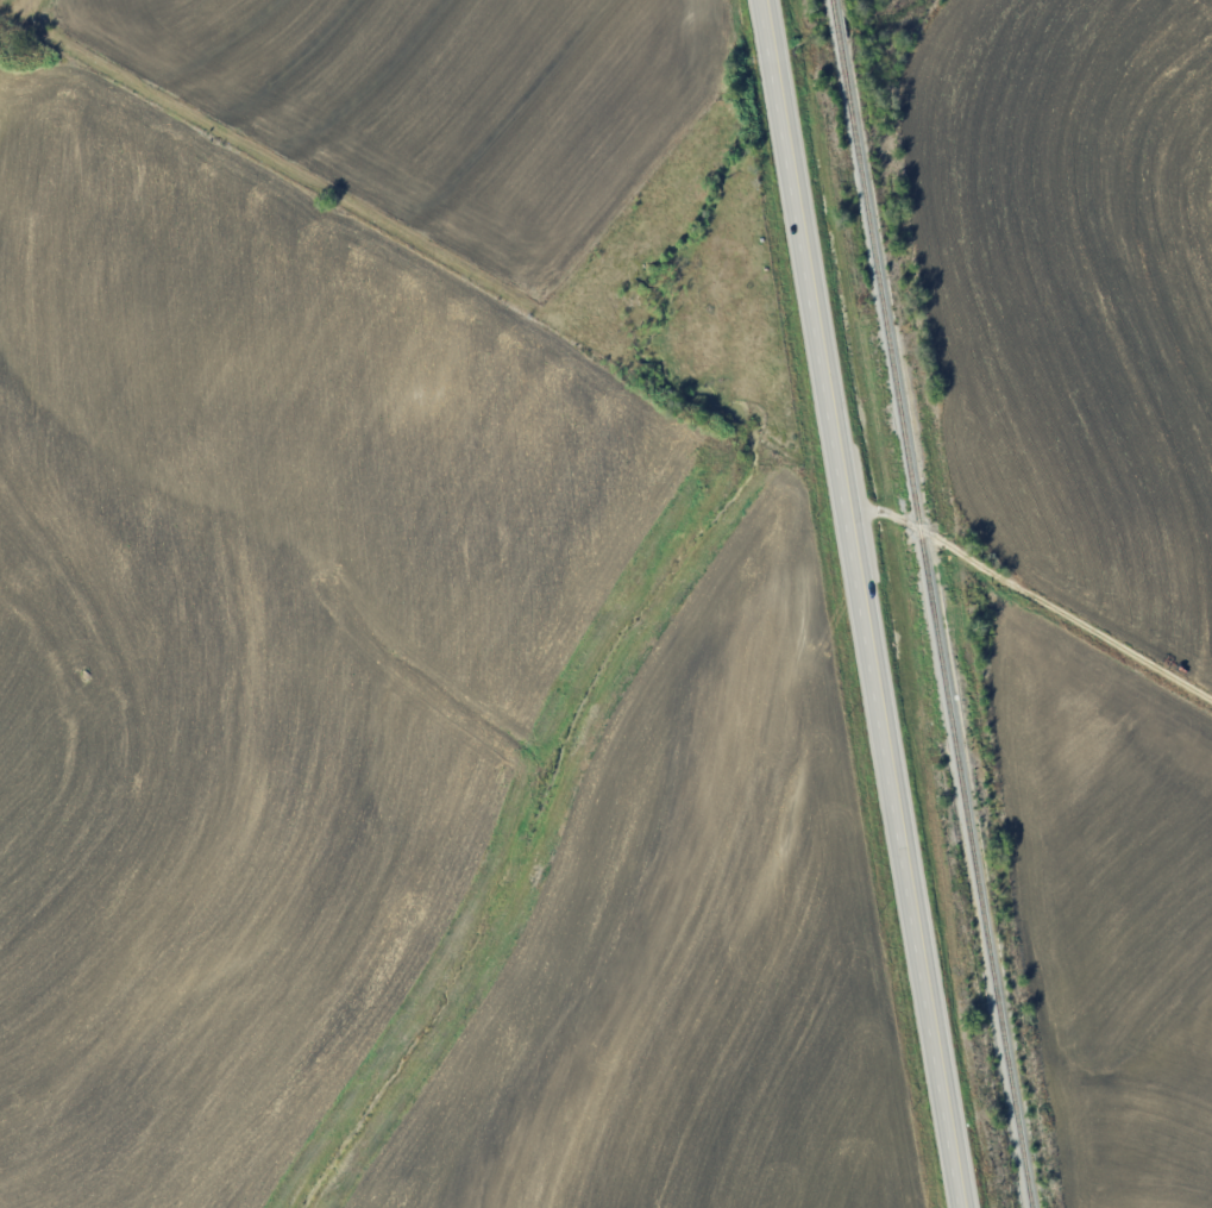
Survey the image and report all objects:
road: (1035, 592)
road: (867, 603)
railway: (936, 603)

